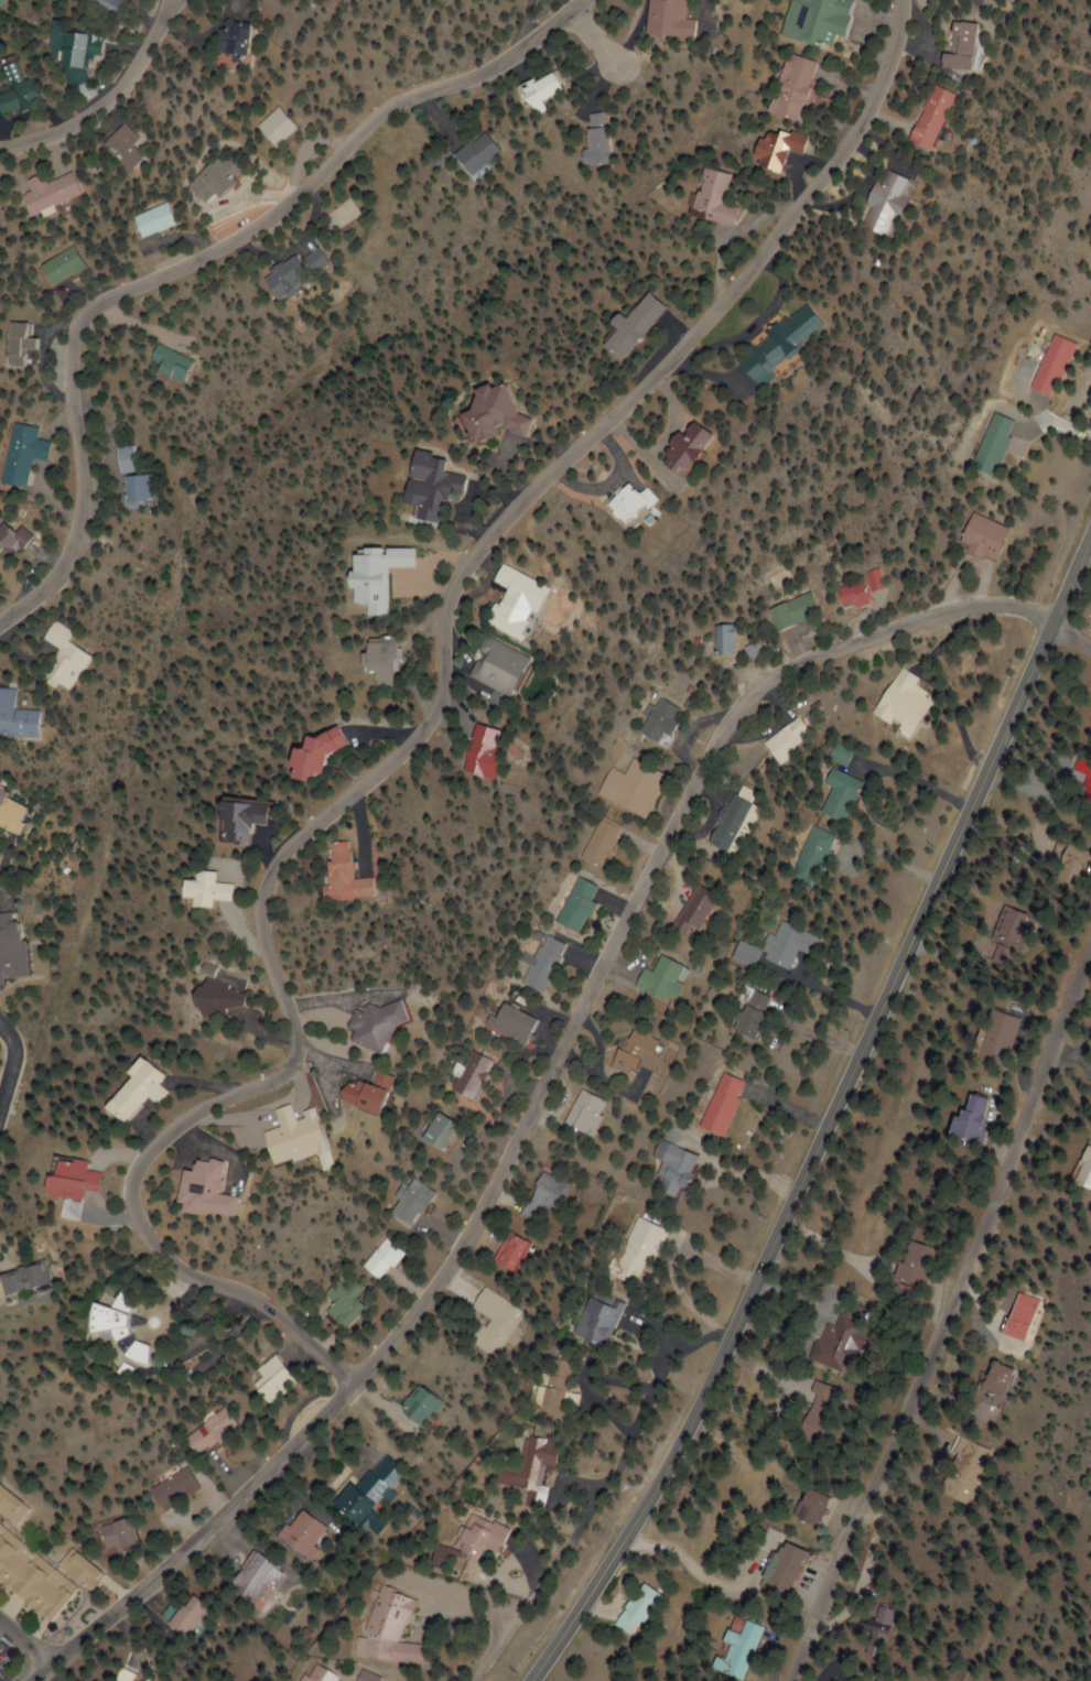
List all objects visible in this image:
building: (107, 4)
building: (667, 19)
building: (814, 21)
road: (528, 23)
building: (225, 36)
building: (958, 47)
building: (69, 50)
building: (790, 87)
building: (15, 90)
building: (536, 91)
road: (105, 96)
building: (928, 118)
building: (270, 128)
building: (593, 141)
building: (112, 148)
building: (776, 149)
building: (472, 154)
building: (206, 177)
building: (40, 192)
building: (715, 198)
building: (883, 203)
building: (143, 220)
road: (199, 256)
building: (54, 267)
building: (287, 271)
road: (120, 319)
building: (629, 326)
building: (13, 341)
building: (770, 345)
building: (158, 364)
building: (1047, 366)
building: (490, 413)
building: (984, 444)
building: (667, 449)
building: (15, 453)
building: (117, 458)
building: (428, 486)
building: (123, 489)
building: (618, 505)
building: (972, 538)
building: (9, 540)
building: (367, 576)
building: (851, 589)
building: (508, 603)
building: (780, 612)
road: (1071, 637)
building: (713, 639)
building: (53, 658)
building: (371, 661)
building: (489, 671)
building: (894, 704)
building: (12, 719)
building: (650, 722)
road: (411, 740)
building: (776, 742)
building: (471, 751)
building: (306, 753)
building: (1083, 787)
building: (625, 788)
building: (831, 795)
building: (24, 806)
building: (230, 821)
building: (725, 821)
building: (593, 842)
building: (804, 857)
building: (1067, 866)
building: (332, 874)
building: (198, 890)
building: (570, 904)
building: (687, 910)
building: (1003, 935)
building: (770, 947)
building: (29, 950)
building: (536, 964)
building: (655, 980)
building: (216, 995)
building: (743, 1013)
building: (504, 1023)
building: (368, 1024)
building: (989, 1041)
building: (7, 1049)
building: (628, 1054)
road: (22, 1064)
building: (463, 1076)
building: (375, 1080)
building: (0, 1084)
building: (136, 1092)
road: (533, 1094)
building: (352, 1097)
building: (715, 1106)
building: (579, 1115)
road: (825, 1115)
building: (960, 1120)
building: (430, 1132)
building: (284, 1140)
building: (0, 1149)
building: (668, 1170)
building: (1082, 1171)
building: (64, 1179)
building: (193, 1192)
building: (539, 1200)
building: (404, 1202)
building: (508, 1254)
building: (375, 1260)
building: (911, 1264)
building: (23, 1279)
building: (336, 1302)
road: (947, 1313)
building: (1019, 1316)
building: (489, 1322)
building: (588, 1324)
building: (101, 1332)
building: (838, 1344)
building: (997, 1380)
building: (266, 1382)
building: (543, 1402)
building: (413, 1408)
building: (818, 1408)
building: (203, 1433)
building: (972, 1471)
building: (520, 1472)
building: (176, 1487)
building: (363, 1496)
building: (809, 1507)
building: (299, 1536)
building: (128, 1537)
building: (467, 1540)
building: (784, 1568)
building: (35, 1575)
building: (253, 1580)
building: (631, 1609)
building: (193, 1616)
building: (381, 1630)
building: (888, 1630)
road: (24, 1639)
building: (738, 1649)
building: (312, 1674)
building: (360, 1677)
building: (881, 1680)

